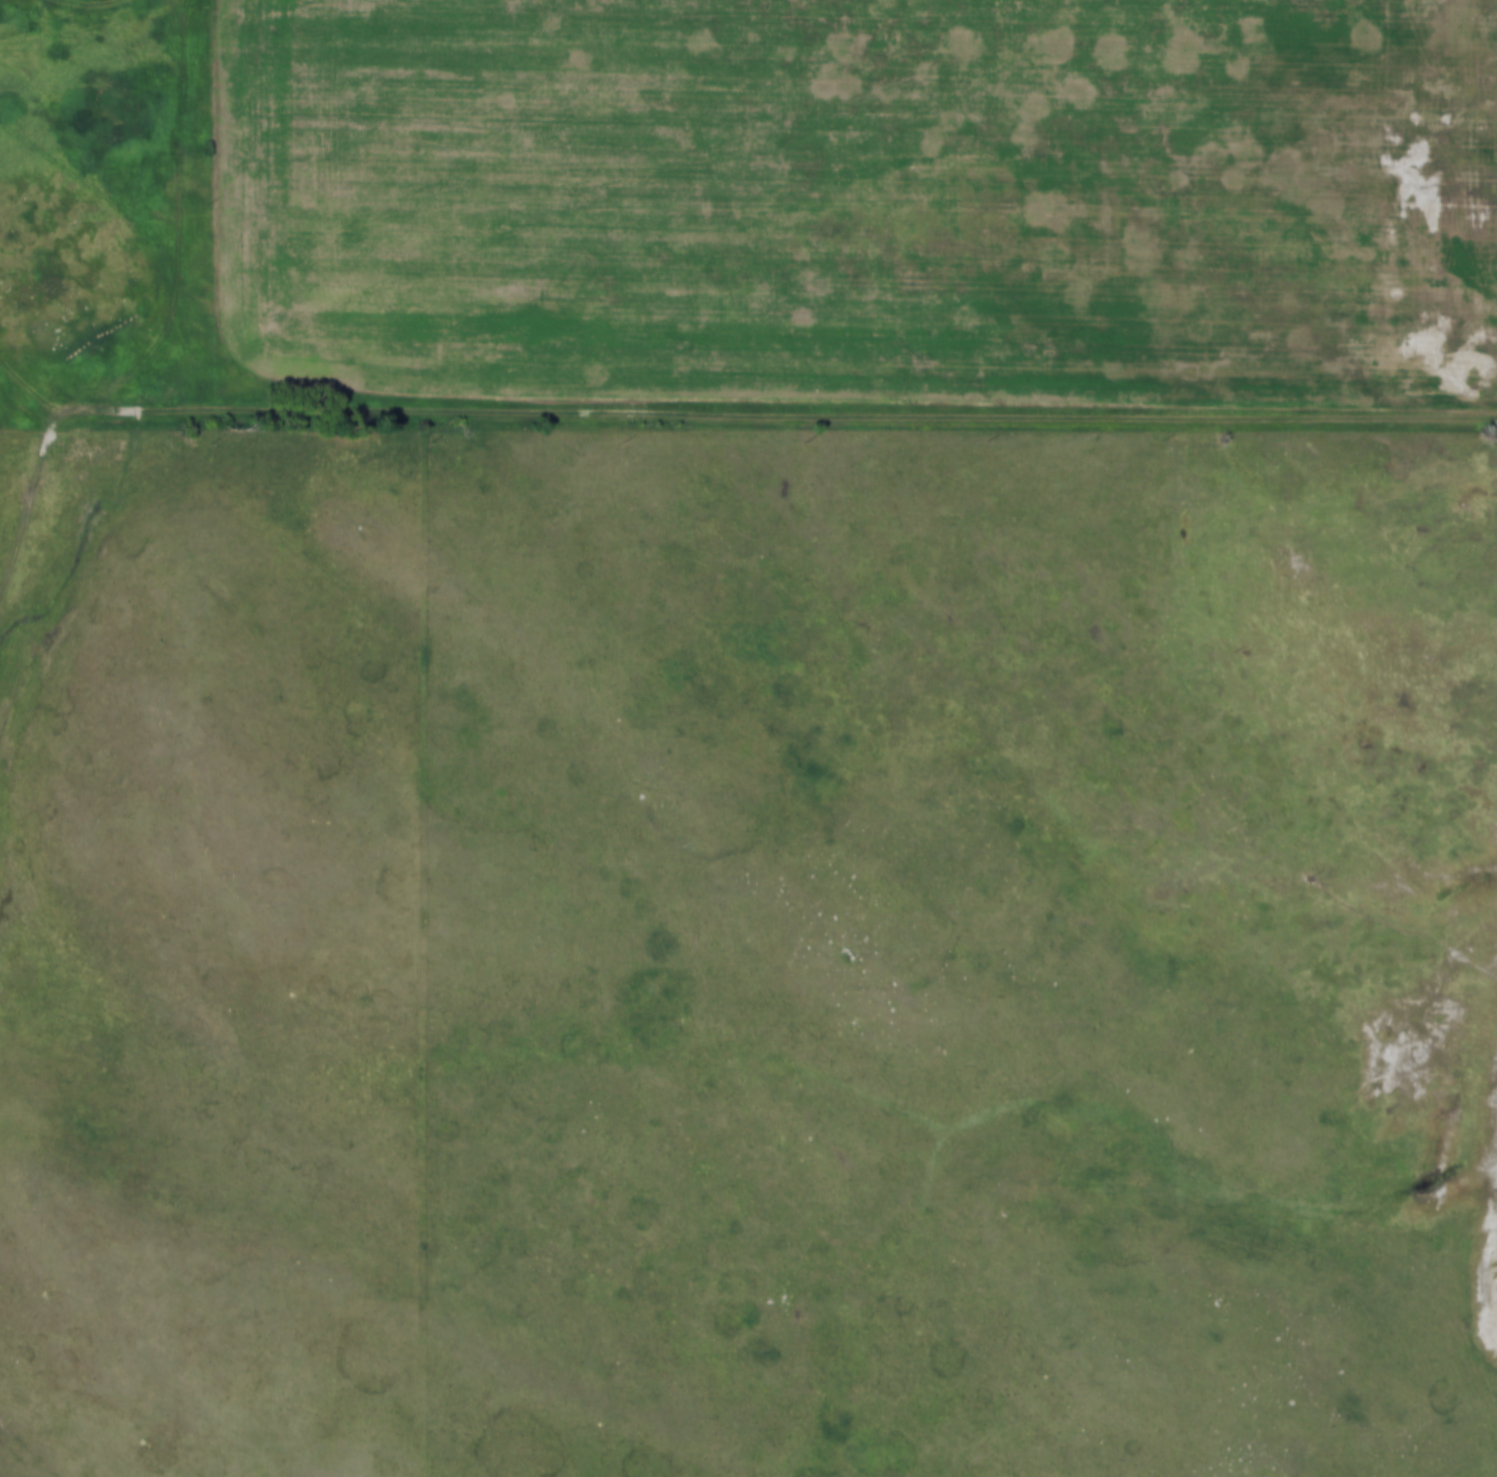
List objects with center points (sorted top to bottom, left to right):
road: (688, 413)

